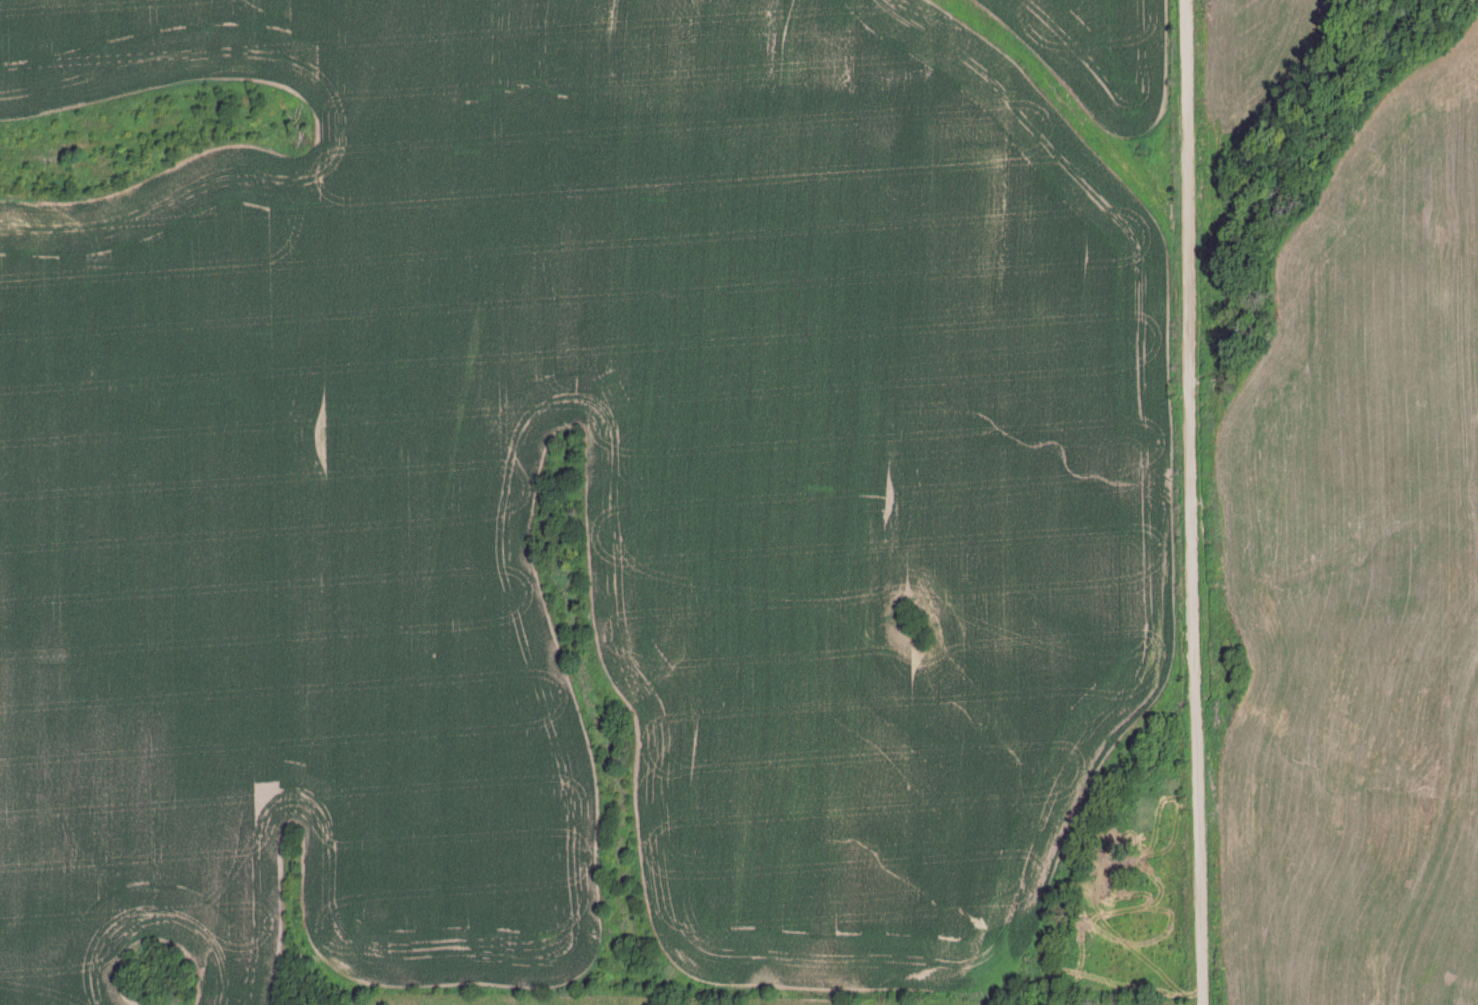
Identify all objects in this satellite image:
road: (1183, 502)

